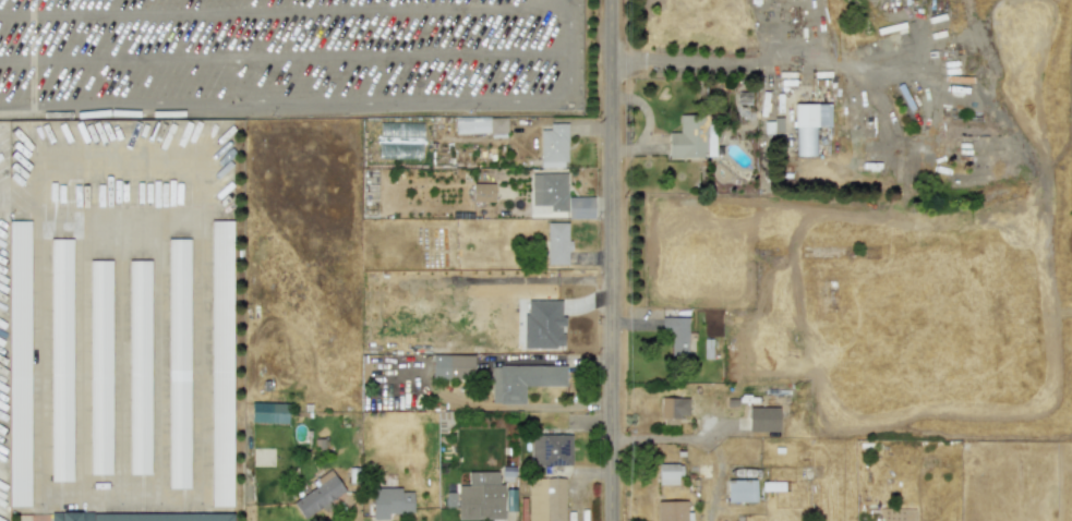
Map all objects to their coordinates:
road: (568, 0)
road: (285, 7)
road: (569, 52)
road: (285, 56)
road: (710, 61)
road: (285, 105)
building: (481, 125)
building: (808, 125)
building: (692, 137)
building: (553, 146)
building: (482, 192)
building: (558, 196)
road: (23, 201)
road: (200, 216)
building: (556, 243)
road: (613, 260)
building: (675, 335)
road: (484, 352)
road: (77, 358)
road: (117, 358)
road: (159, 359)
building: (62, 360)
building: (177, 363)
building: (219, 363)
building: (19, 364)
building: (98, 366)
building: (451, 366)
building: (137, 367)
building: (521, 380)
building: (672, 410)
building: (268, 412)
building: (762, 420)
road: (673, 438)
building: (551, 449)
building: (669, 474)
building: (740, 490)
building: (318, 494)
building: (480, 497)
building: (545, 499)
building: (389, 501)
building: (523, 510)
road: (40, 511)
building: (671, 511)
building: (142, 517)

